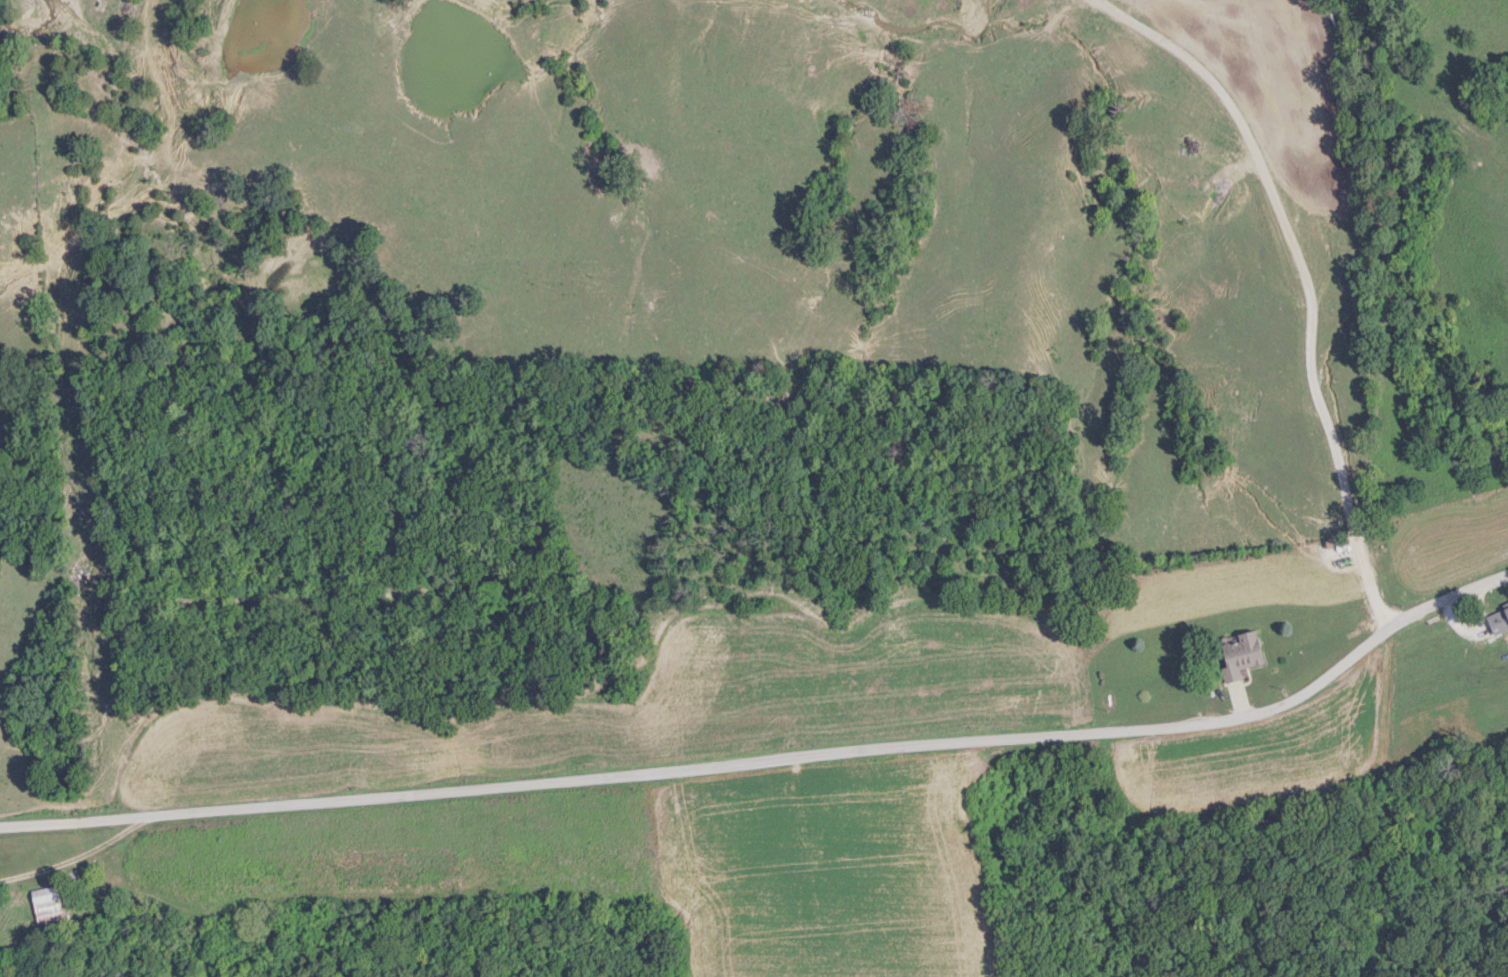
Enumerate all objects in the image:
road: (1305, 280)
building: (1499, 619)
road: (1473, 623)
building: (1242, 652)
road: (1239, 699)
road: (773, 755)
building: (47, 902)

